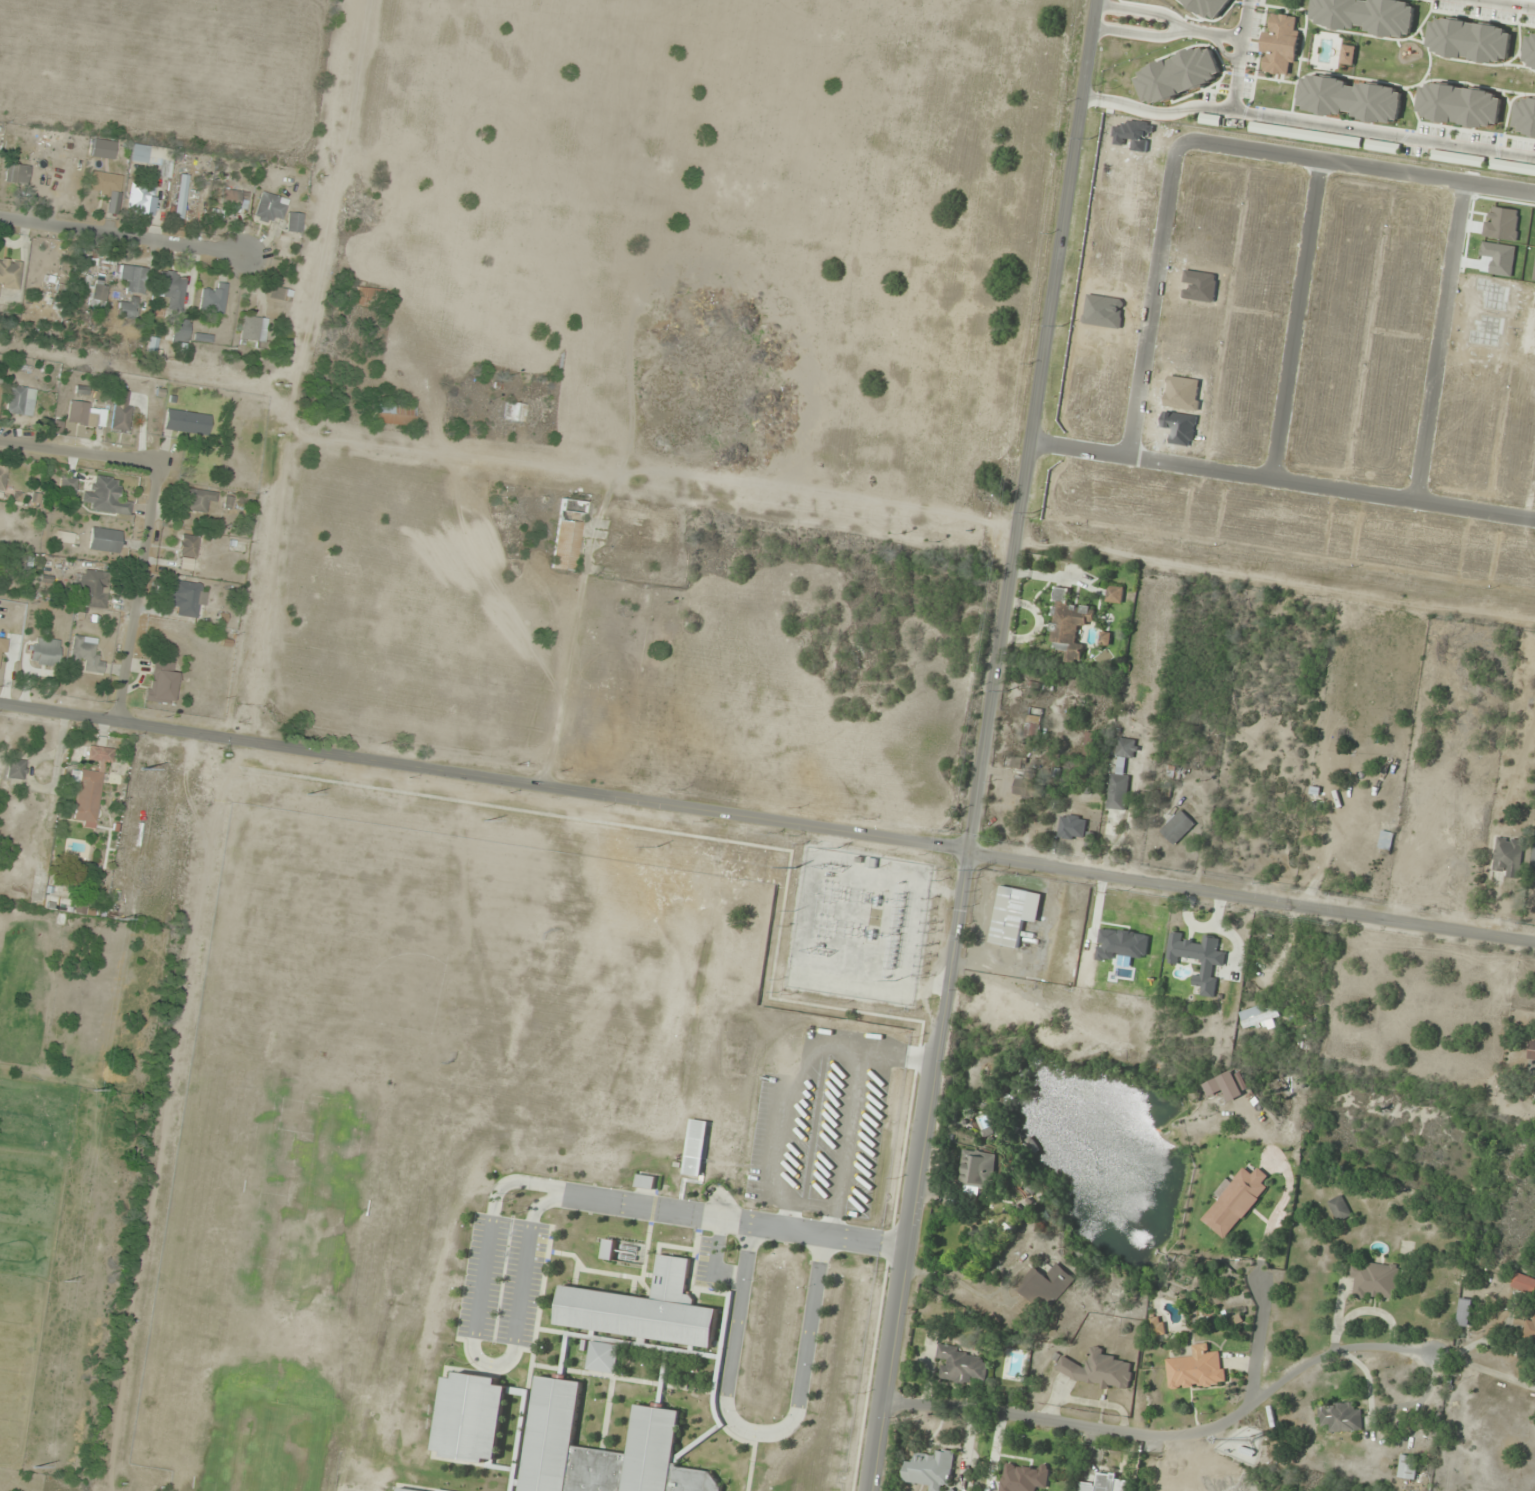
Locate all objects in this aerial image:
road: (1505, 4)
road: (1245, 20)
road: (1168, 27)
road: (1155, 114)
road: (1348, 128)
building: (153, 158)
road: (1357, 171)
building: (18, 174)
building: (104, 184)
building: (181, 196)
building: (234, 198)
building: (141, 200)
building: (270, 207)
building: (294, 222)
road: (121, 232)
building: (10, 274)
building: (134, 278)
building: (172, 288)
building: (98, 294)
building: (280, 294)
building: (364, 297)
building: (213, 301)
road: (1153, 302)
building: (127, 309)
road: (1295, 322)
building: (180, 330)
building: (254, 330)
road: (1439, 344)
building: (152, 345)
road: (298, 369)
building: (16, 400)
building: (121, 411)
building: (515, 412)
building: (86, 414)
building: (392, 414)
building: (186, 422)
road: (1031, 427)
road: (654, 472)
building: (3, 477)
road: (1282, 481)
building: (66, 484)
building: (105, 497)
building: (198, 499)
road: (147, 514)
building: (567, 534)
building: (104, 540)
building: (187, 546)
building: (92, 588)
building: (1115, 595)
building: (186, 598)
building: (1069, 625)
building: (1105, 639)
building: (1, 650)
building: (44, 651)
building: (84, 655)
building: (161, 683)
building: (1033, 724)
building: (15, 769)
road: (485, 778)
building: (1120, 778)
building: (90, 785)
building: (1029, 787)
building: (1177, 827)
building: (1072, 828)
building: (1362, 846)
building: (1508, 857)
building: (1533, 859)
building: (1456, 869)
building: (2, 877)
road: (1253, 899)
building: (1014, 915)
power substation: (859, 926)
building: (1260, 1016)
building: (1532, 1061)
building: (978, 1170)
road: (922, 1172)
building: (646, 1181)
park: (304, 1199)
building: (1339, 1208)
road: (735, 1221)
road: (715, 1248)
parking lot: (711, 1264)
building: (1374, 1279)
parking lot: (502, 1280)
building: (1524, 1283)
building: (1045, 1287)
building: (644, 1309)
building: (1464, 1311)
building: (1157, 1326)
building: (1530, 1329)
road: (473, 1347)
building: (603, 1357)
building: (963, 1366)
building: (1196, 1369)
building: (1102, 1371)
building: (472, 1417)
building: (1341, 1417)
building: (655, 1428)
road: (756, 1433)
building: (1255, 1435)
road: (1177, 1440)
park: (265, 1448)
building: (1248, 1452)
building: (1409, 1467)
building: (932, 1469)
building: (1024, 1477)
building: (1107, 1484)
building: (405, 1490)

